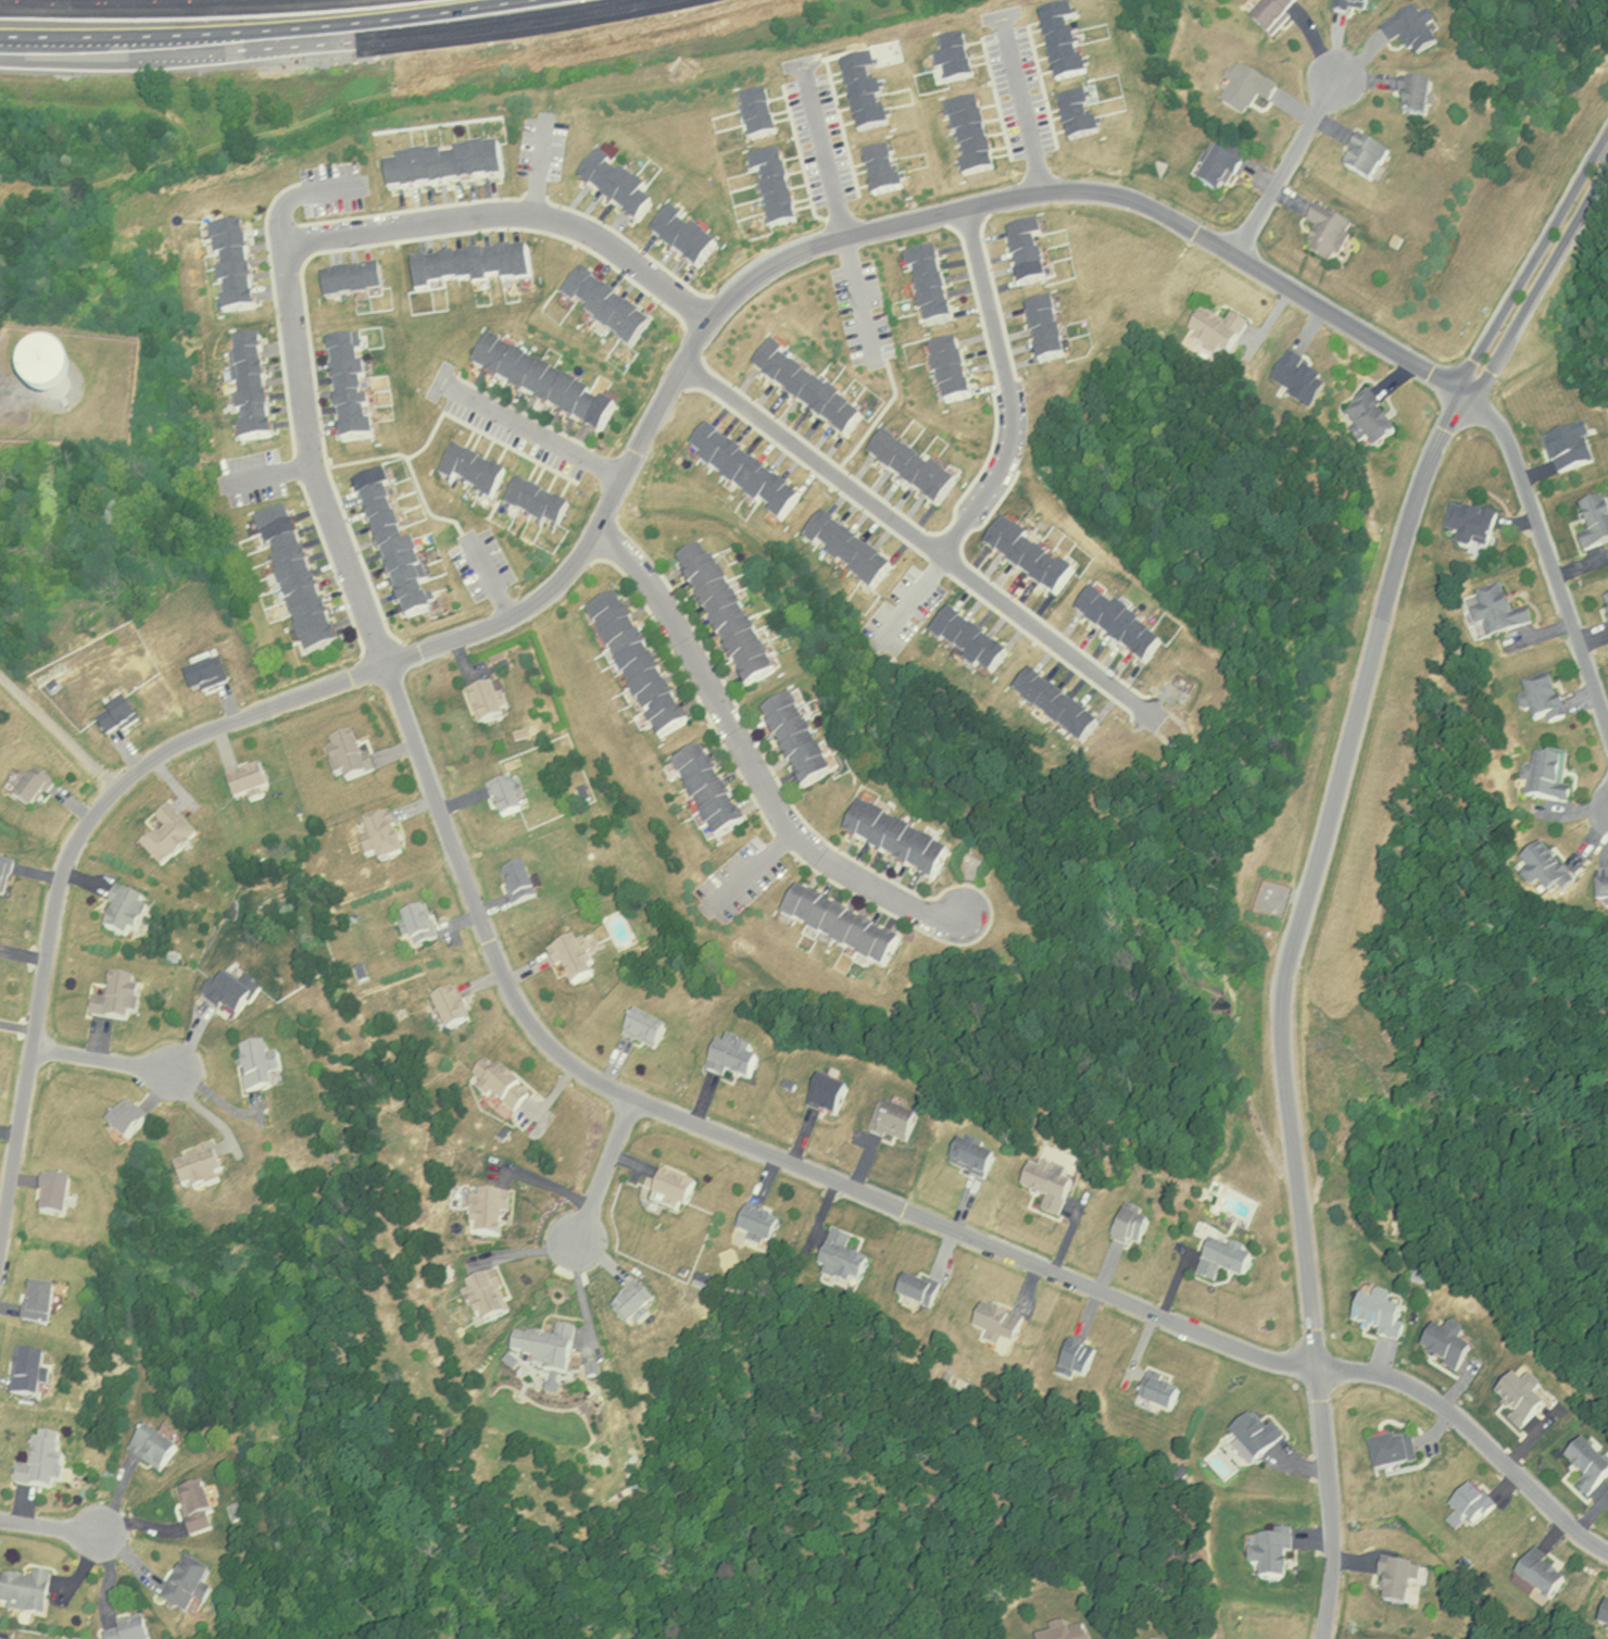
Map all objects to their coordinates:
road: (316, 42)
road: (1025, 109)
road: (822, 150)
road: (1284, 168)
road: (293, 238)
road: (856, 290)
road: (1012, 386)
road: (533, 434)
road: (605, 508)
road: (928, 537)
road: (1546, 554)
road: (744, 758)
road: (1312, 865)
road: (100, 1061)
road: (731, 1138)
road: (600, 1166)
road: (1473, 1436)
road: (50, 1524)

